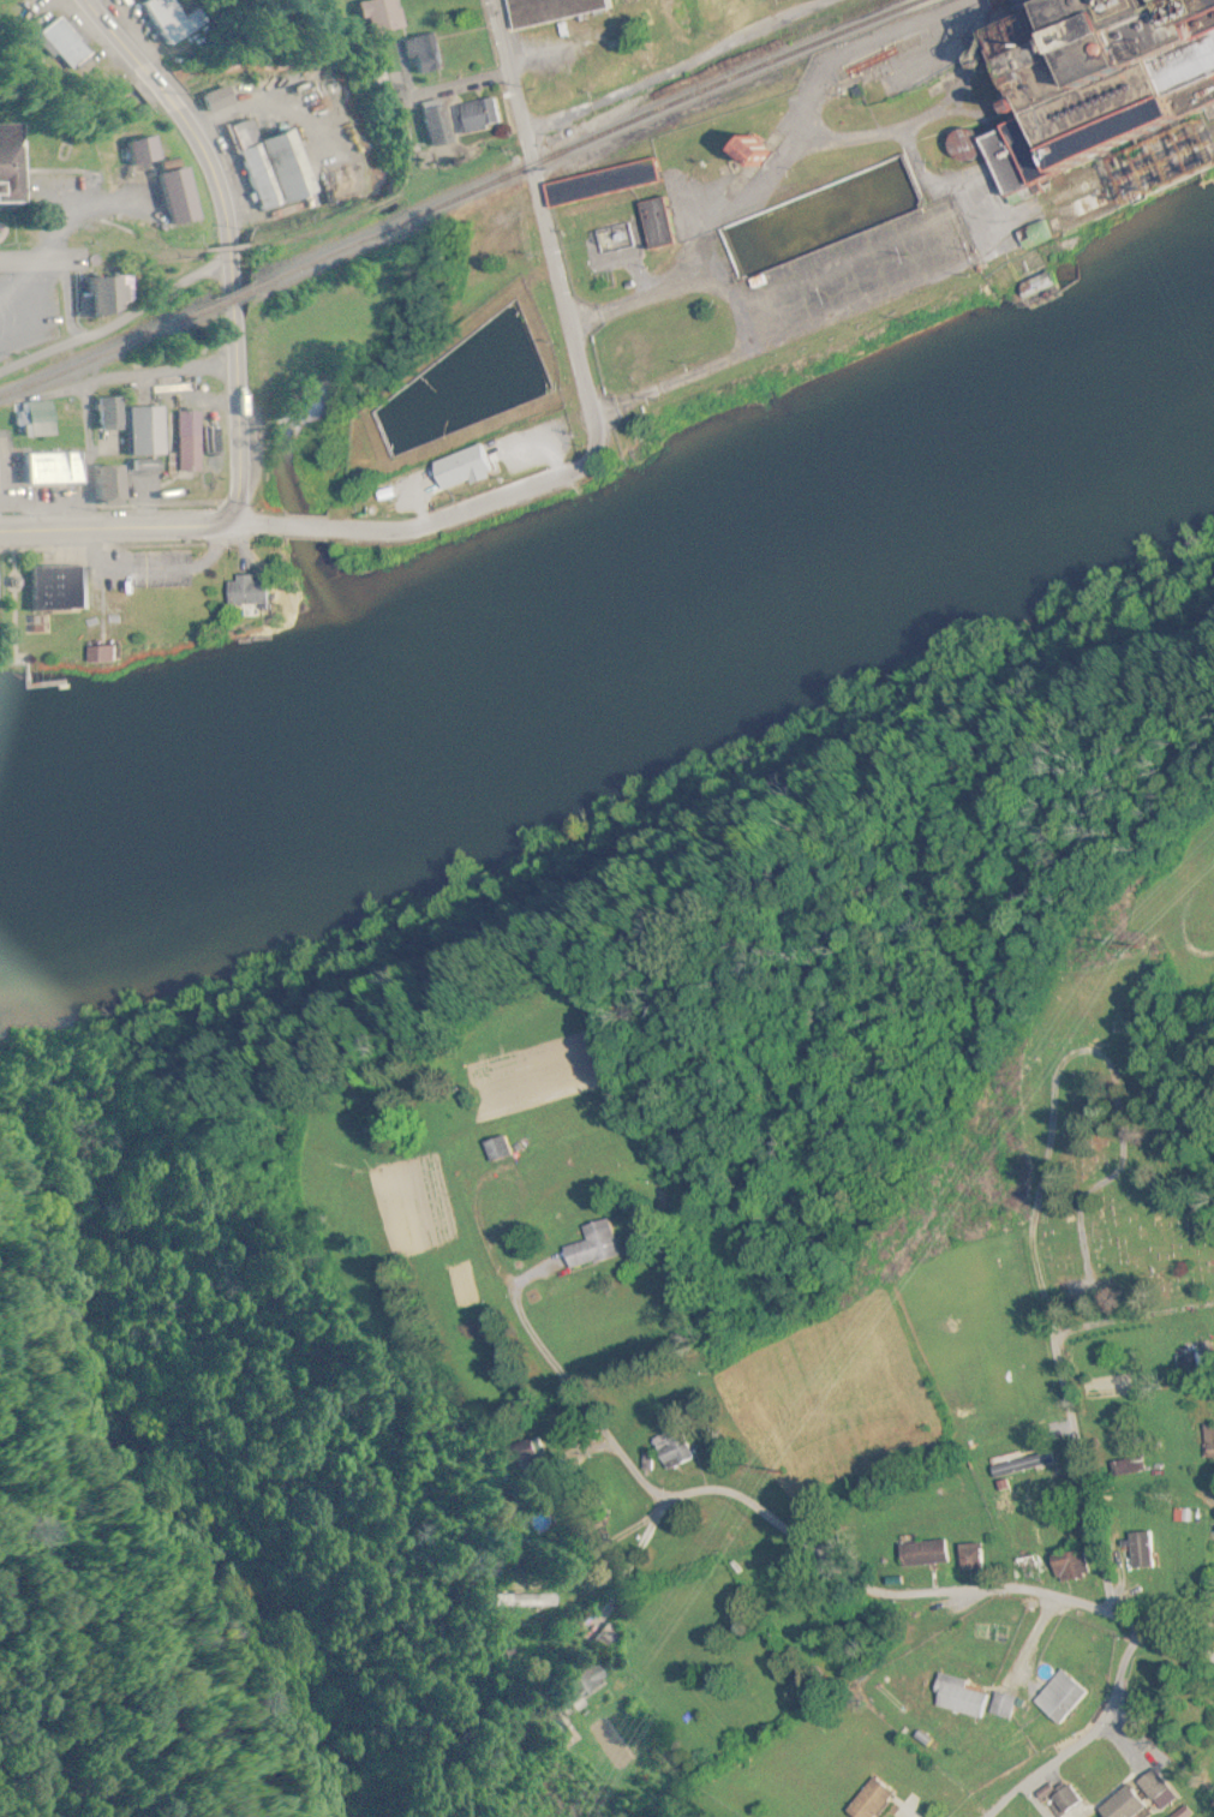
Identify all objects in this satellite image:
building: (551, 11)
building: (376, 16)
building: (167, 19)
road: (114, 34)
building: (60, 42)
building: (419, 55)
railway: (734, 79)
building: (1086, 80)
road: (159, 89)
building: (474, 116)
building: (427, 127)
building: (743, 151)
building: (267, 163)
building: (4, 165)
building: (599, 184)
railway: (473, 190)
power plant: (875, 197)
building: (1083, 203)
building: (653, 222)
railway: (397, 223)
building: (1028, 234)
road: (549, 240)
road: (44, 257)
railway: (317, 258)
building: (1039, 283)
building: (97, 295)
railway: (229, 295)
road: (234, 311)
road: (119, 324)
railway: (102, 353)
road: (142, 377)
building: (101, 414)
road: (86, 418)
building: (31, 419)
building: (184, 442)
building: (498, 447)
building: (49, 468)
building: (103, 486)
building: (429, 492)
road: (461, 512)
road: (120, 528)
road: (293, 528)
building: (53, 588)
building: (245, 592)
river: (615, 616)
building: (96, 655)
building: (497, 1148)
building: (593, 1245)
road: (1068, 1373)
building: (1208, 1442)
building: (672, 1448)
building: (1128, 1466)
building: (1142, 1550)
building: (922, 1553)
building: (970, 1558)
road: (935, 1596)
building: (519, 1601)
building: (606, 1637)
building: (580, 1685)
building: (957, 1698)
building: (1055, 1698)
building: (999, 1705)
road: (1087, 1737)
building: (1150, 1786)
building: (868, 1800)
building: (1060, 1801)
building: (1119, 1805)

